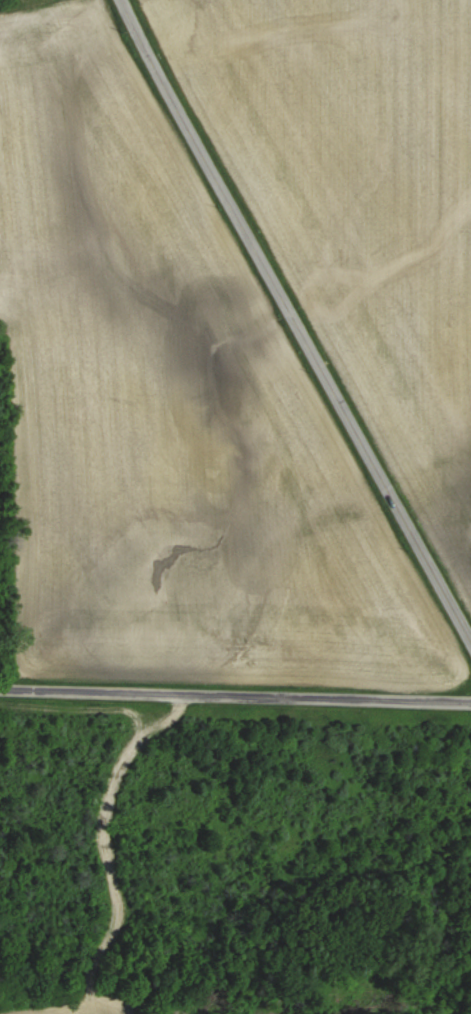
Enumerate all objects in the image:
road: (292, 325)
road: (235, 697)

